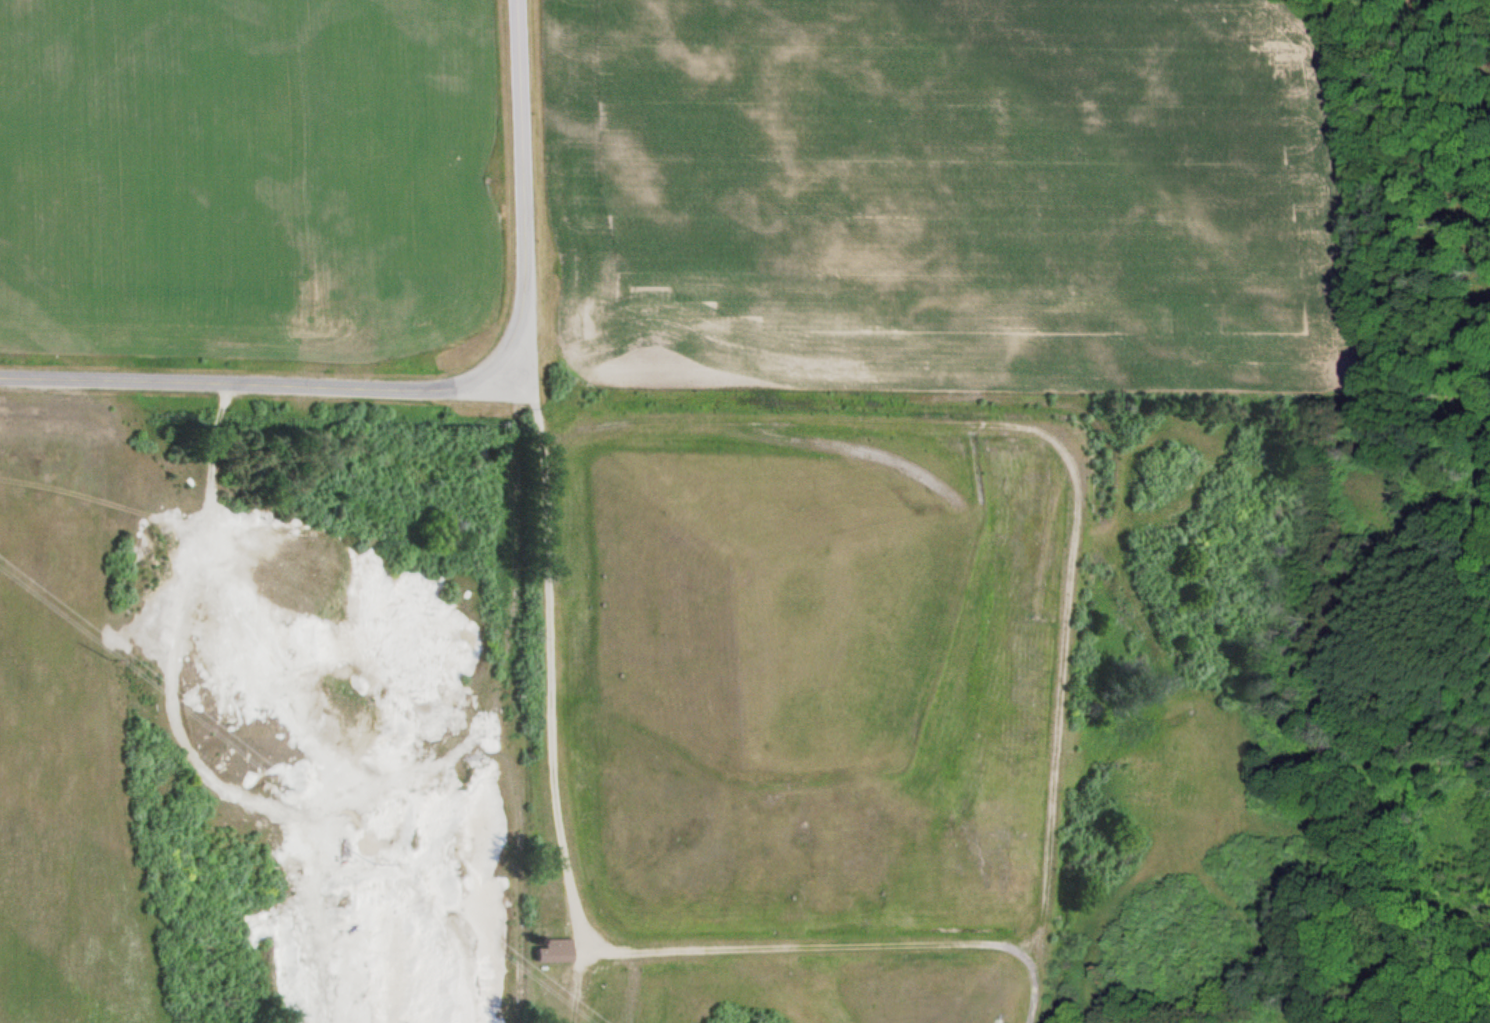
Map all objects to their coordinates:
road: (439, 386)
road: (545, 677)
quarry: (316, 706)
park: (995, 710)
building: (555, 949)

